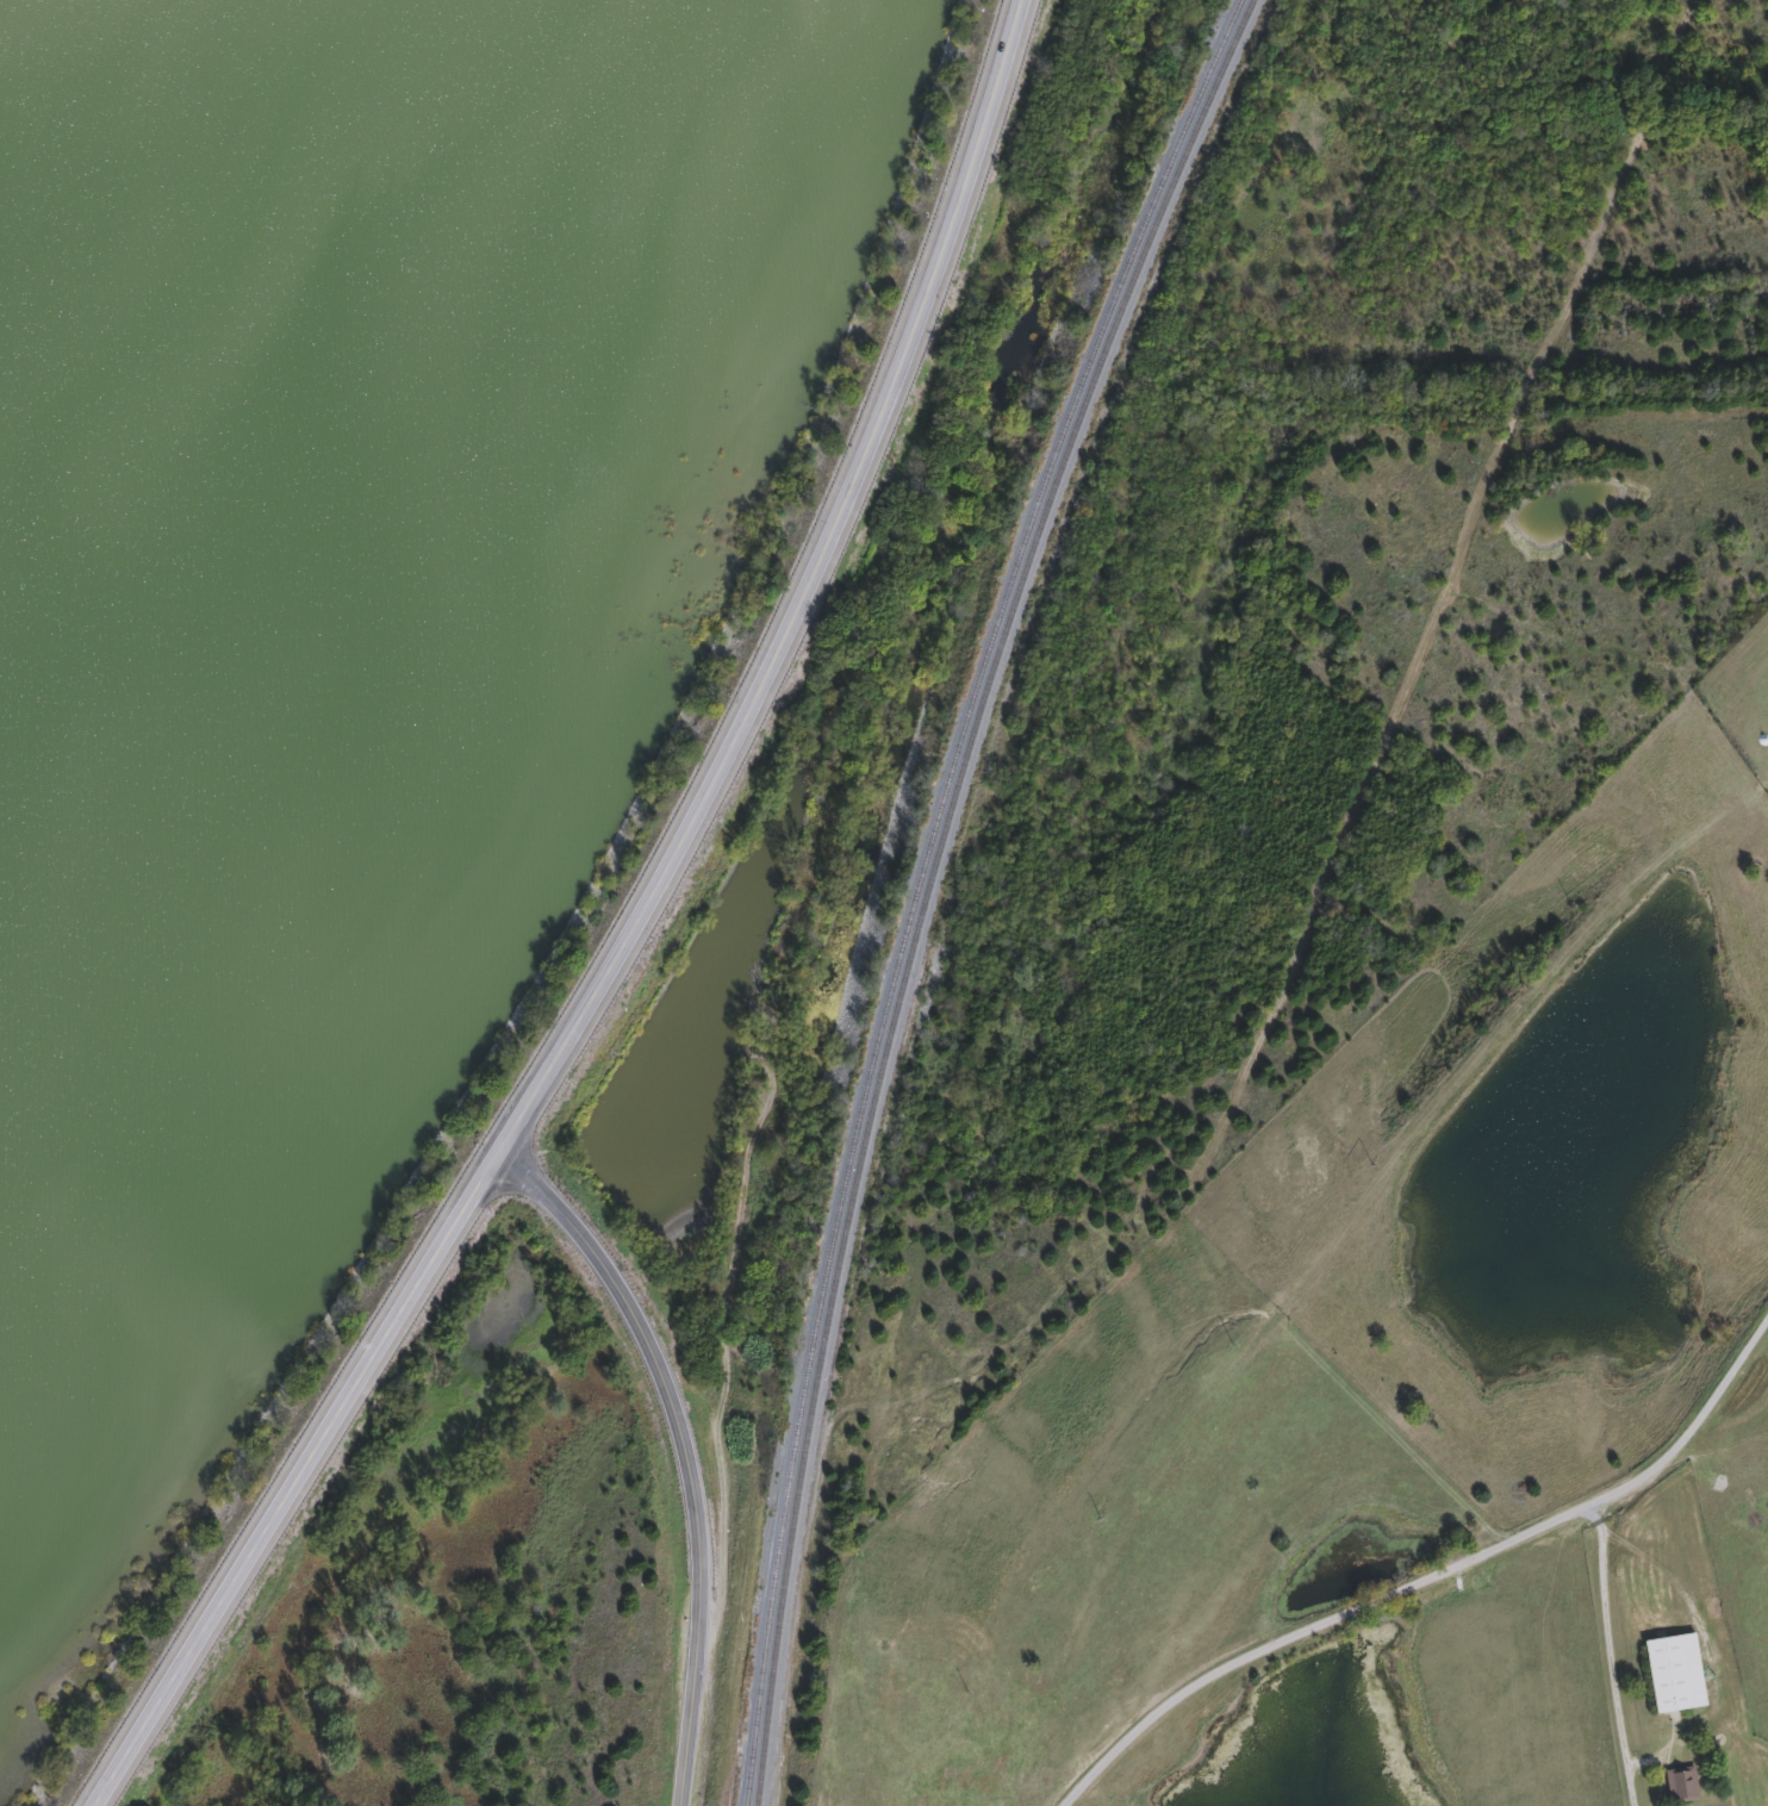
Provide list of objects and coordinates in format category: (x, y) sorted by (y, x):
railway: (920, 882)
railway: (928, 882)
road: (627, 935)
road: (685, 1449)
road: (1430, 1574)
road: (1611, 1656)
building: (1675, 1673)
building: (1681, 1785)

